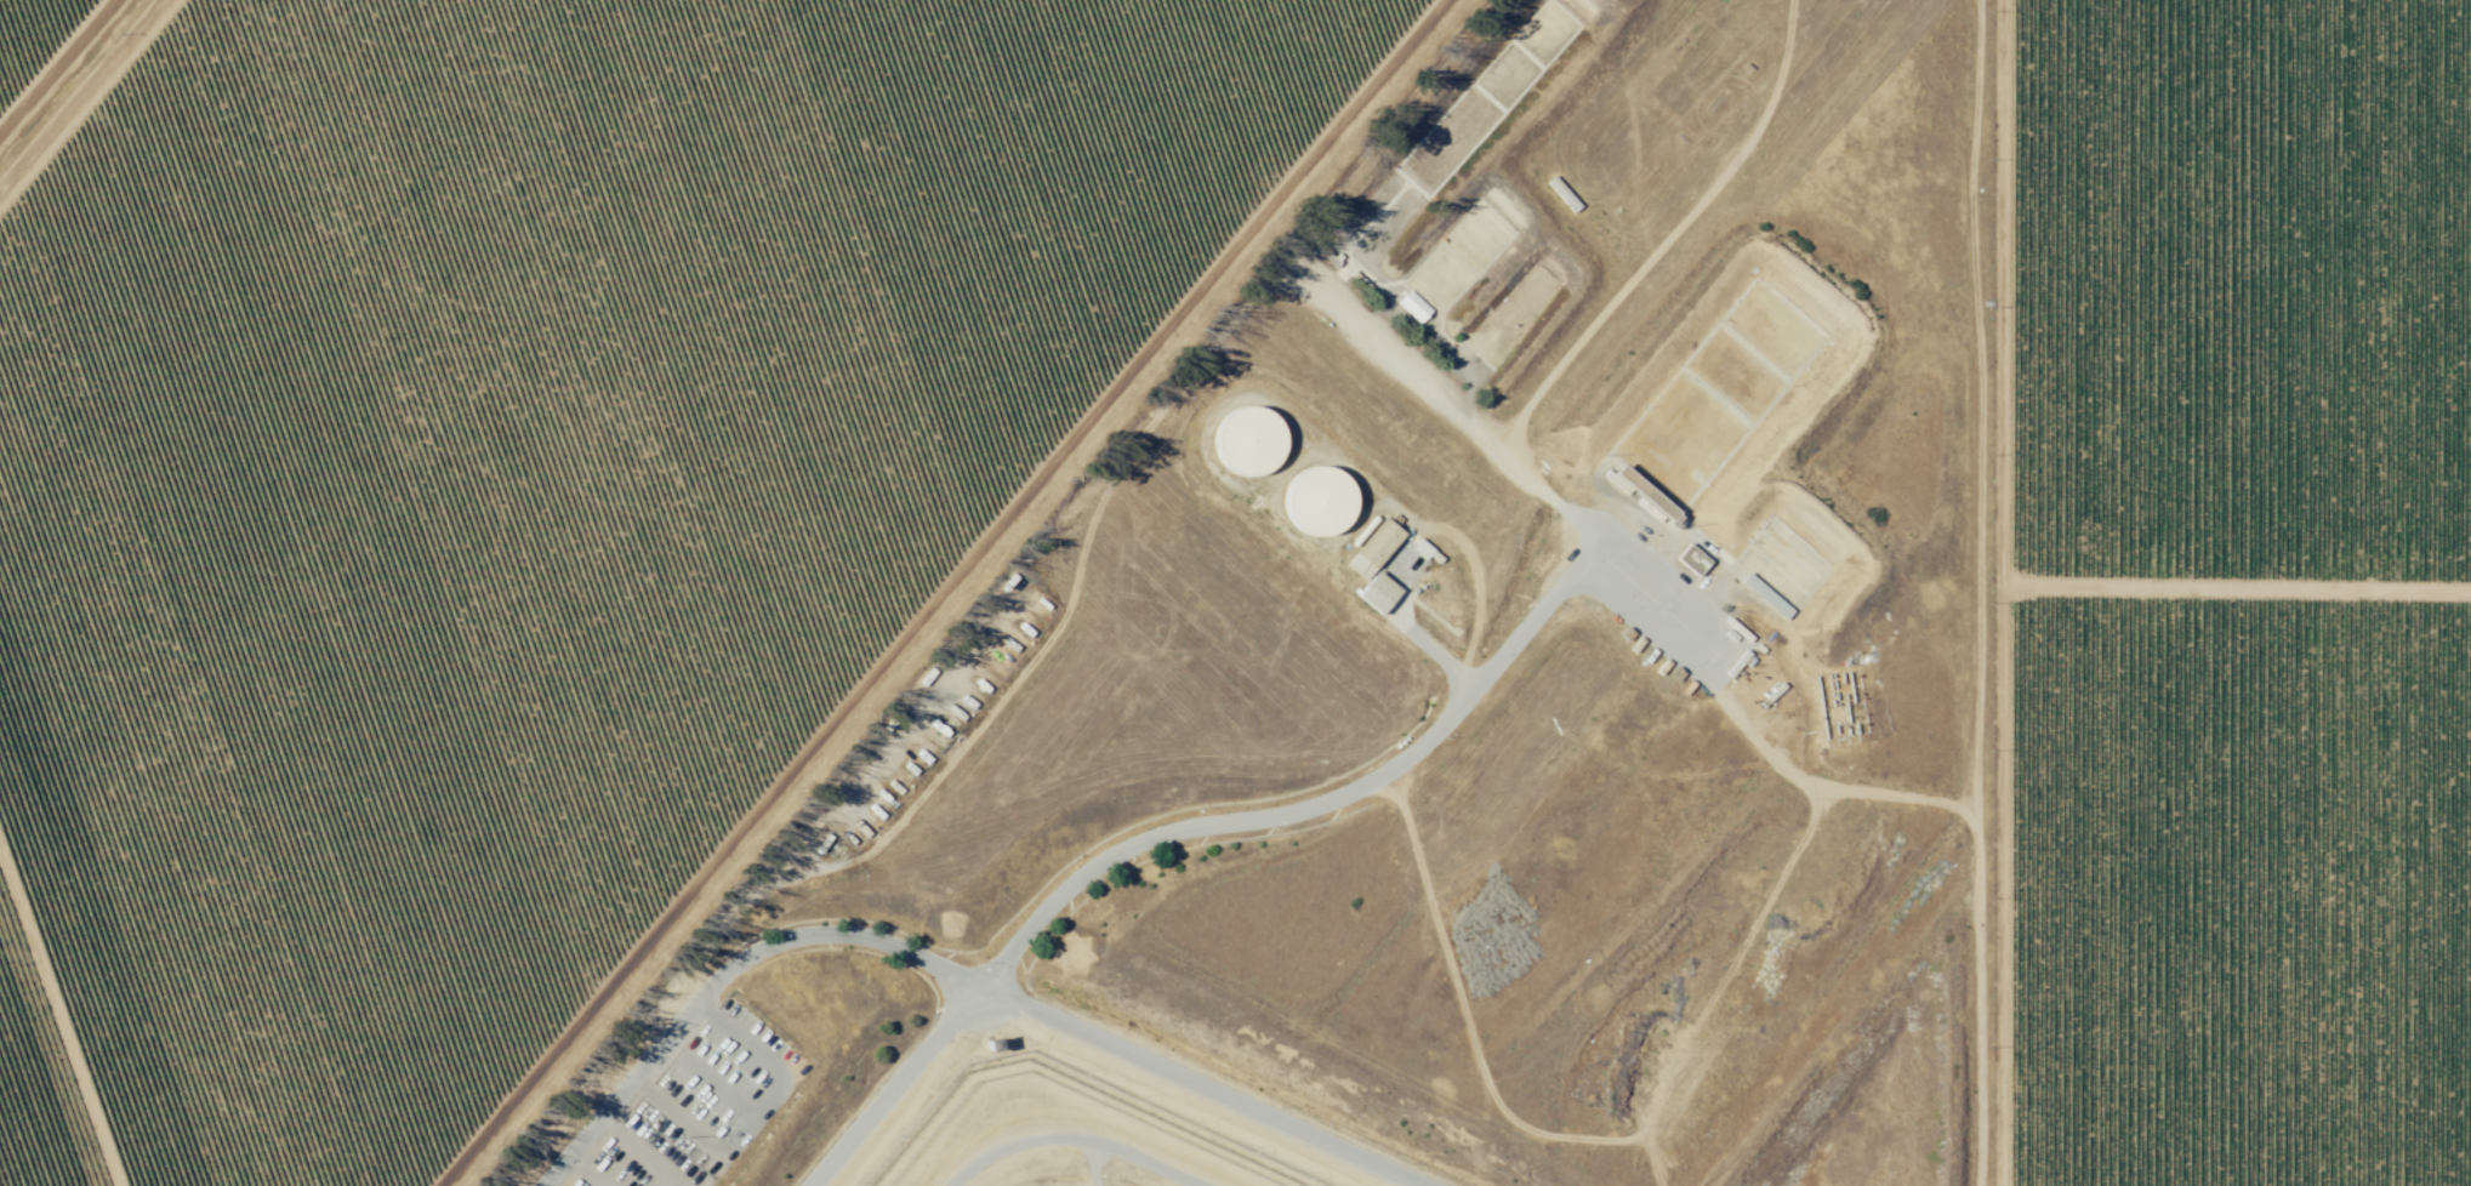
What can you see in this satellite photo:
building: (1564, 194)
building: (1247, 441)
crop: (503, 479)
building: (1642, 496)
building: (1319, 502)
building: (1379, 544)
building: (1691, 560)
road: (952, 589)
building: (1382, 589)
road: (1974, 593)
crop: (2232, 593)
building: (1766, 597)
building: (1615, 637)
road: (1192, 826)
road: (1086, 1033)
building: (989, 1043)
road: (640, 1070)
road: (710, 1077)
road: (775, 1085)
wastewater plant: (1860, 1102)
road: (678, 1114)
road: (640, 1152)
road: (585, 1171)

